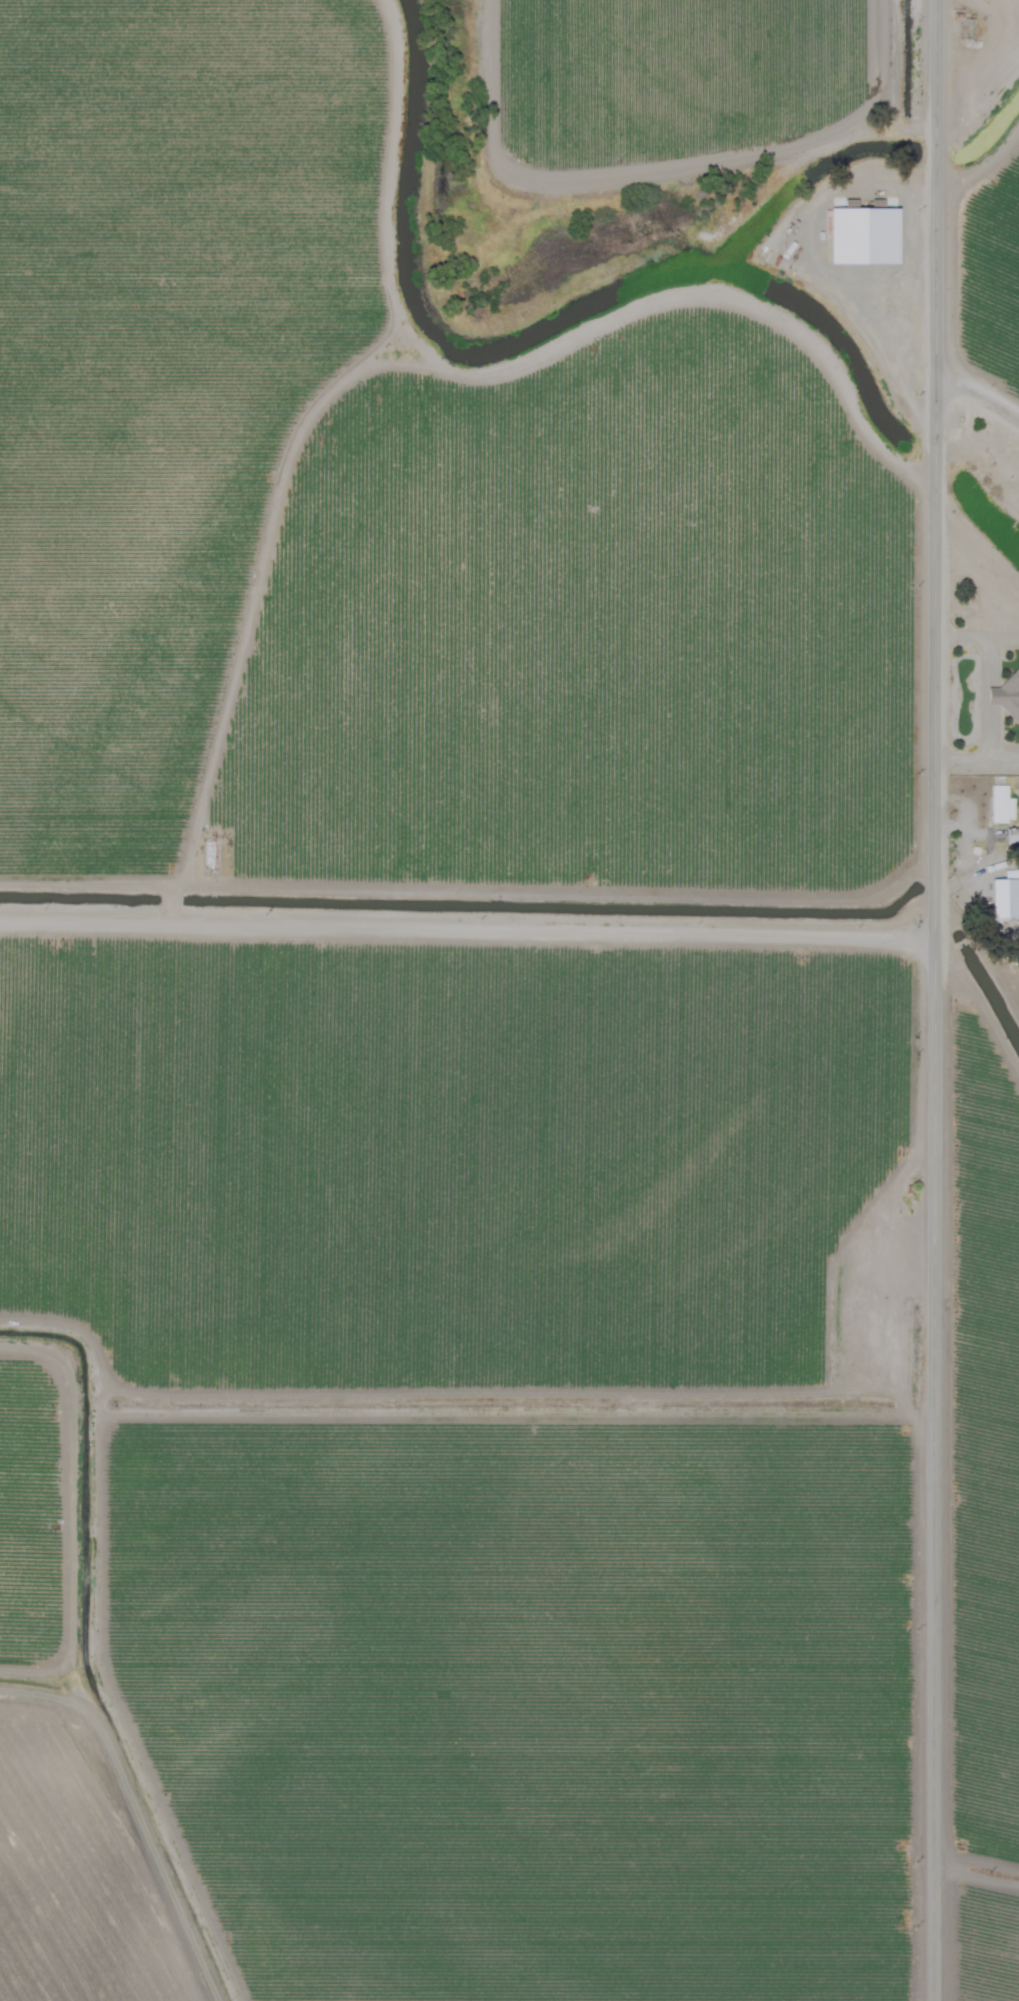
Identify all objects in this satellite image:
road: (979, 175)
road: (976, 399)
road: (244, 606)
building: (1009, 697)
road: (982, 699)
building: (1001, 805)
building: (1013, 836)
building: (1002, 899)
road: (464, 937)
road: (976, 939)
crop: (509, 1000)
road: (930, 1000)
building: (864, 1319)

